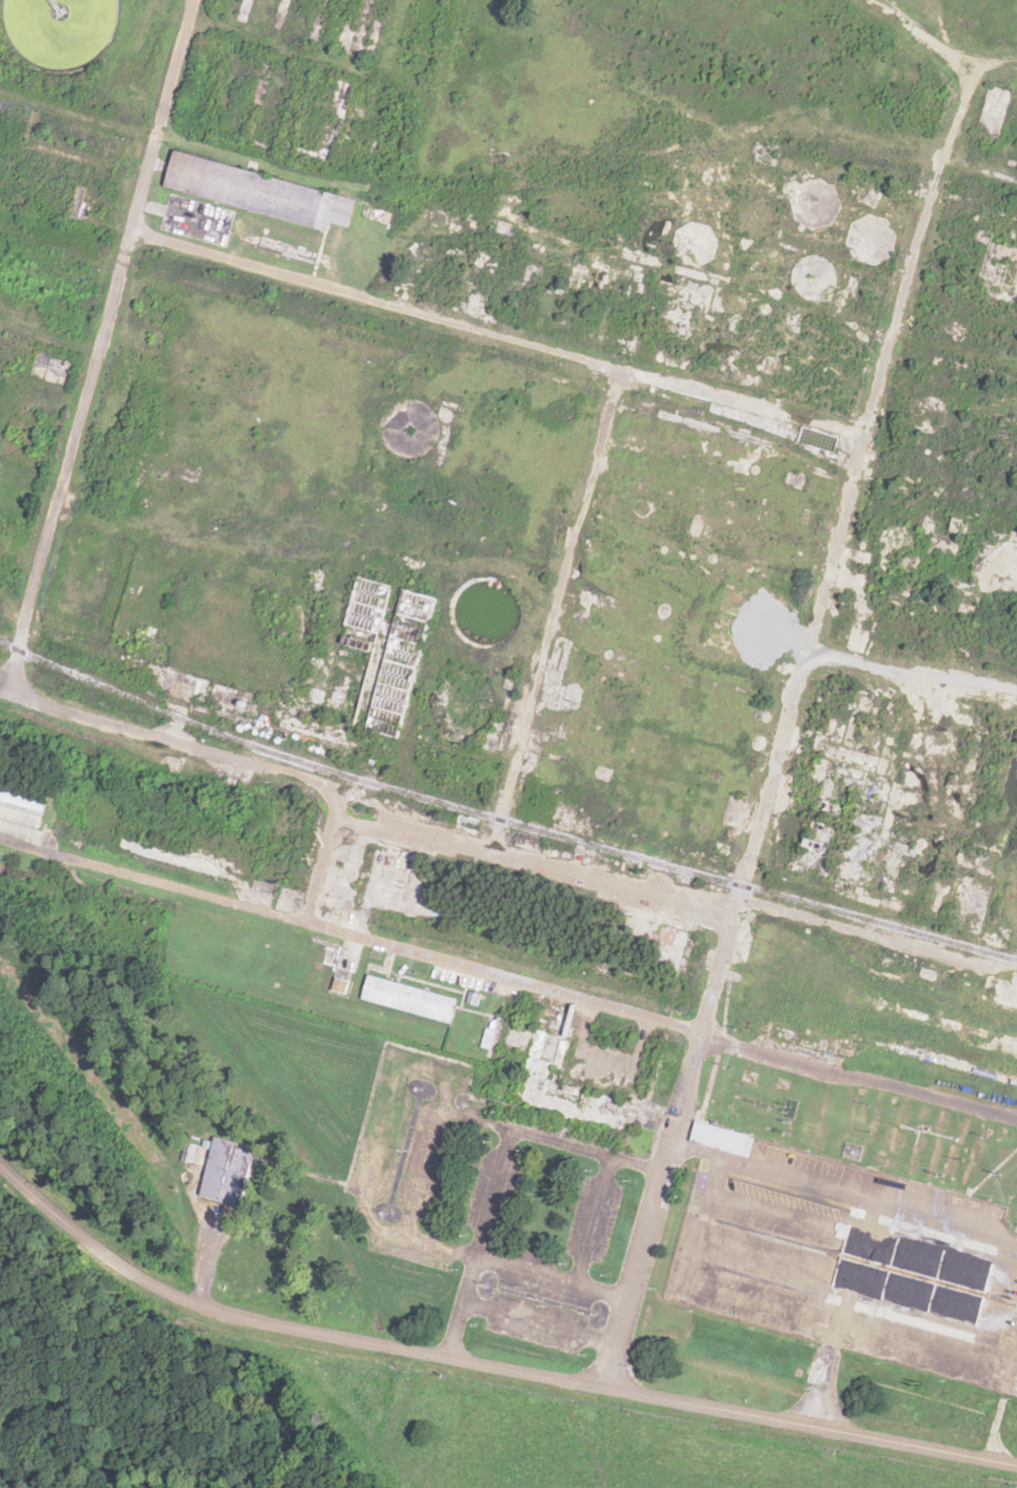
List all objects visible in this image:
road: (910, 30)
building: (79, 36)
building: (932, 100)
building: (74, 139)
building: (261, 192)
building: (200, 221)
building: (158, 309)
building: (48, 388)
building: (422, 584)
road: (574, 632)
road: (914, 674)
road: (788, 722)
road: (164, 740)
building: (22, 804)
building: (868, 809)
building: (447, 818)
railway: (501, 823)
building: (172, 852)
building: (287, 859)
building: (513, 916)
road: (1011, 969)
road: (507, 980)
building: (408, 998)
building: (550, 1074)
building: (721, 1138)
road: (498, 1167)
building: (229, 1171)
road: (591, 1221)
road: (550, 1279)
road: (487, 1362)

